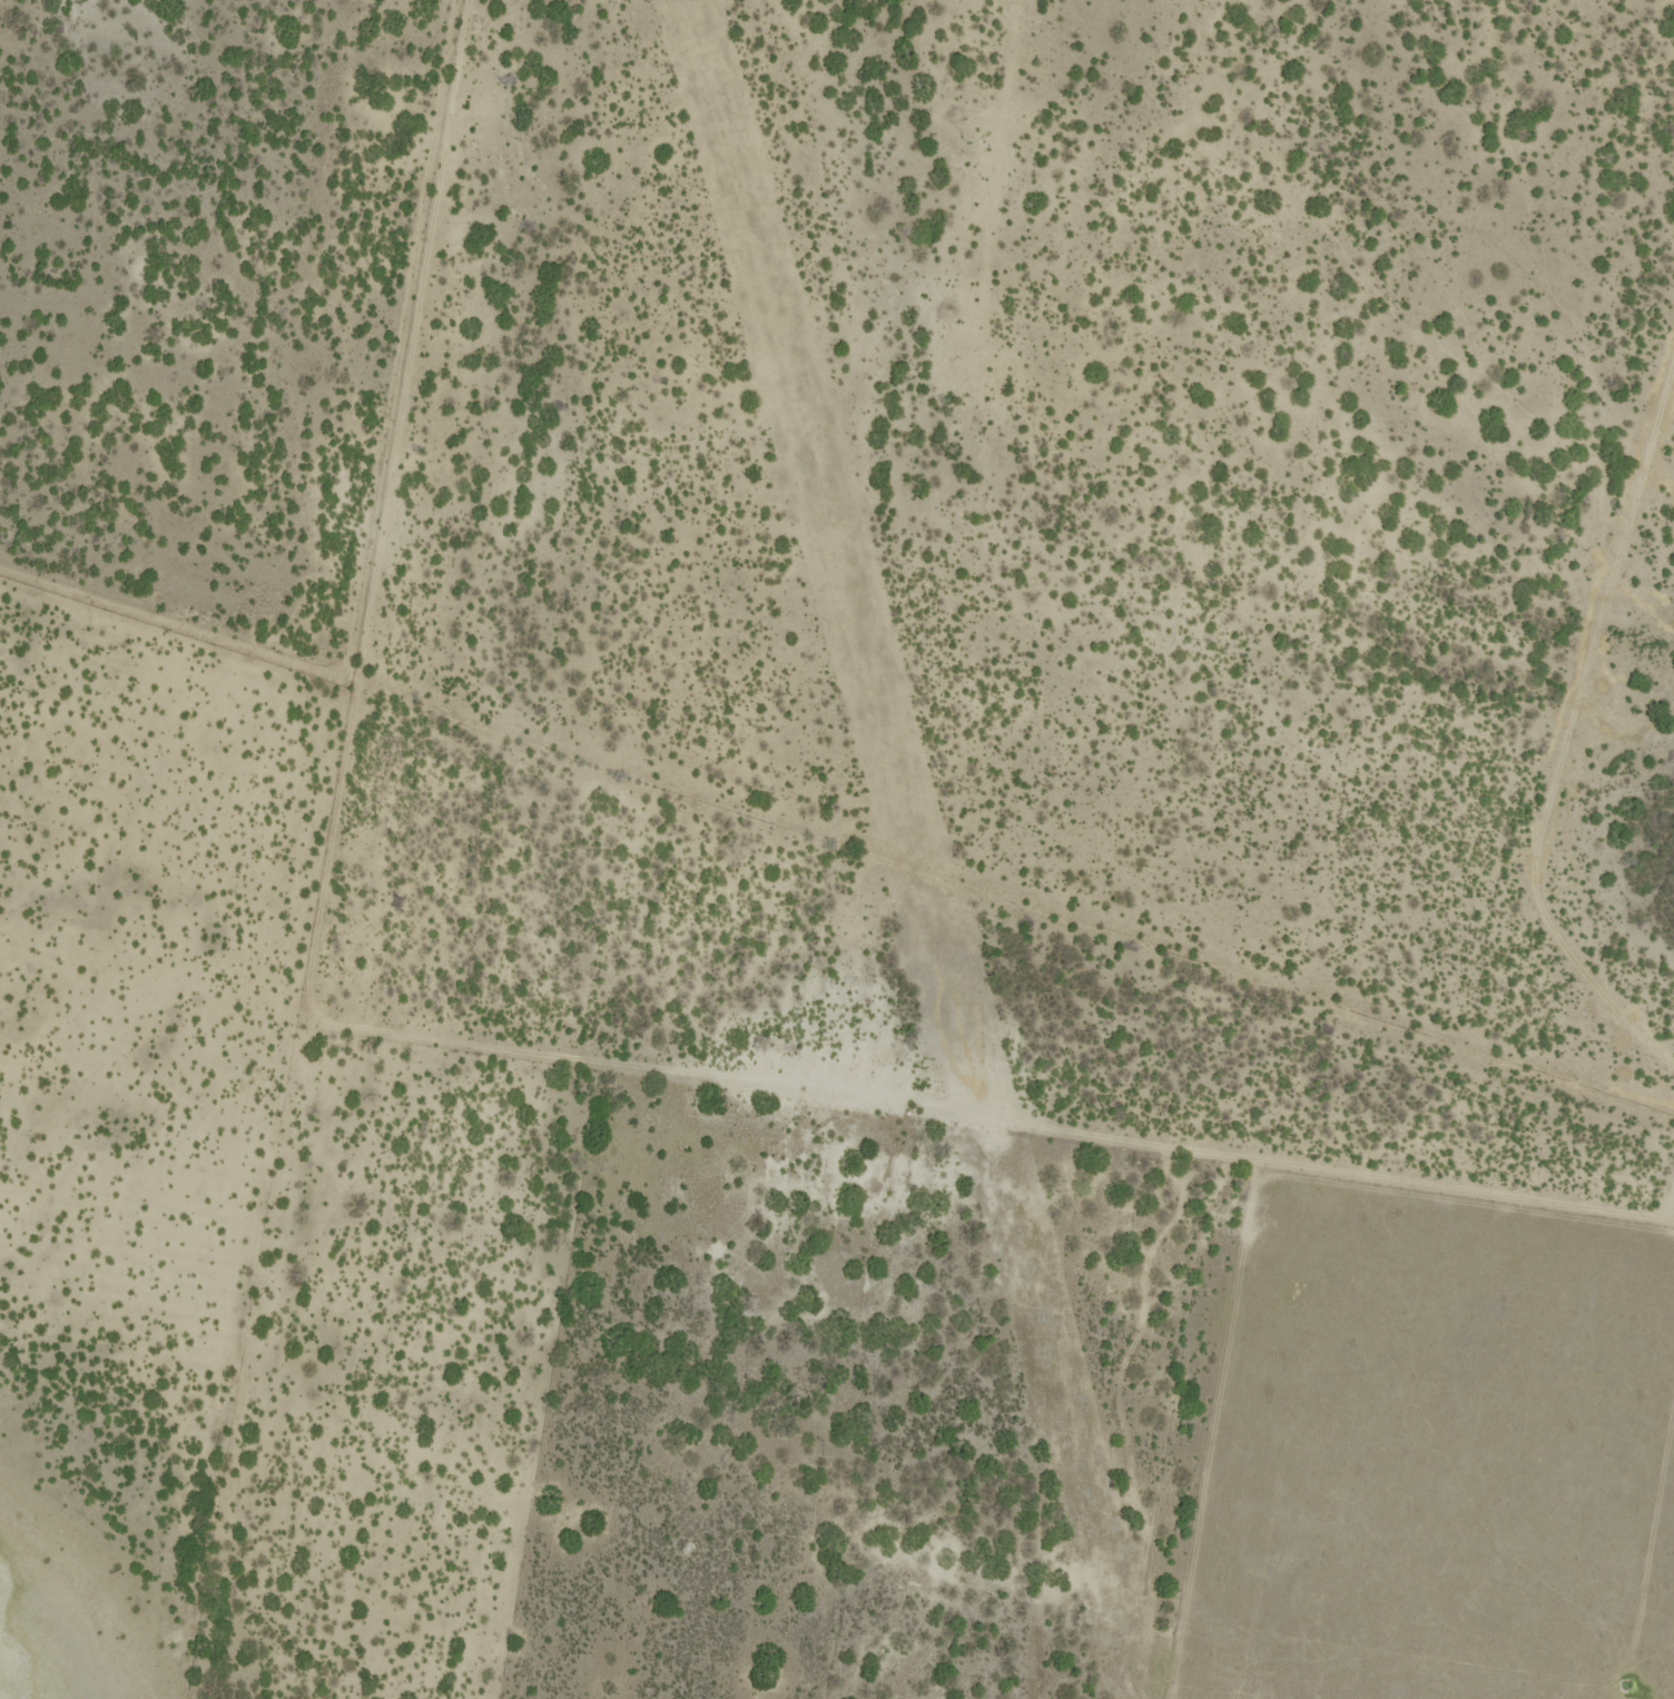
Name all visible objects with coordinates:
road: (837, 832)
road: (266, 1187)

